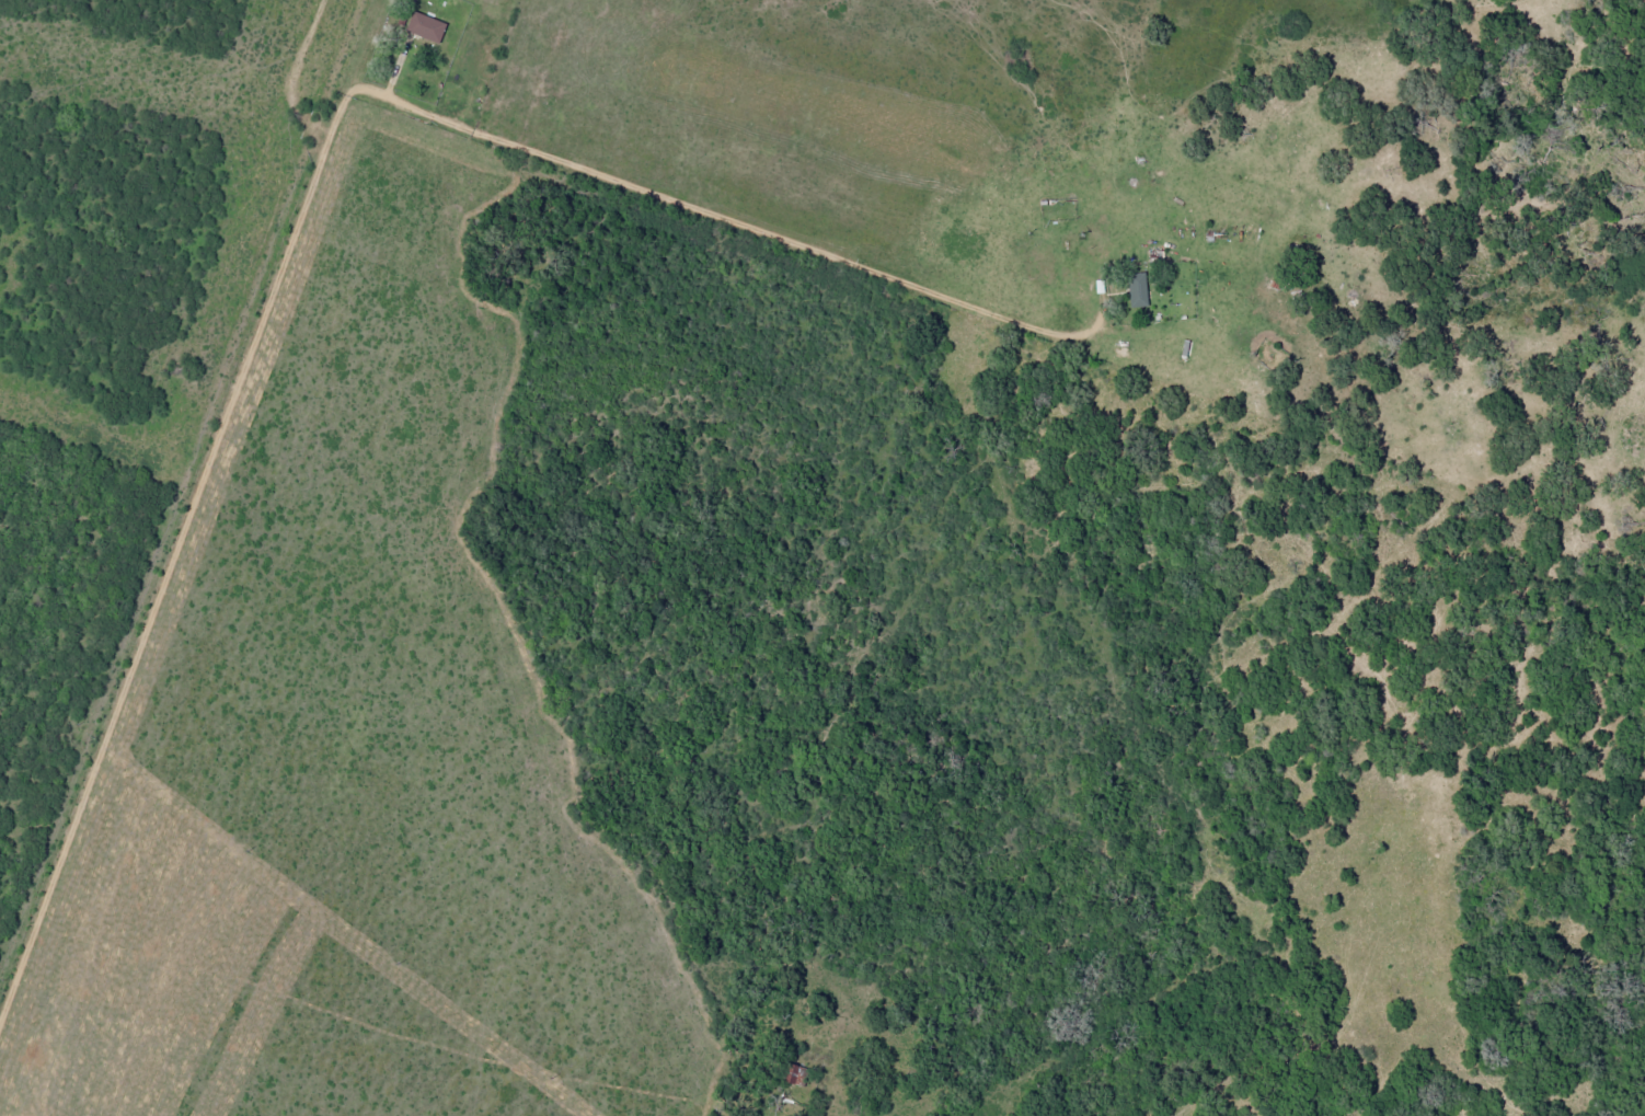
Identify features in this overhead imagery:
building: (425, 26)
road: (492, 134)
building: (1137, 289)

